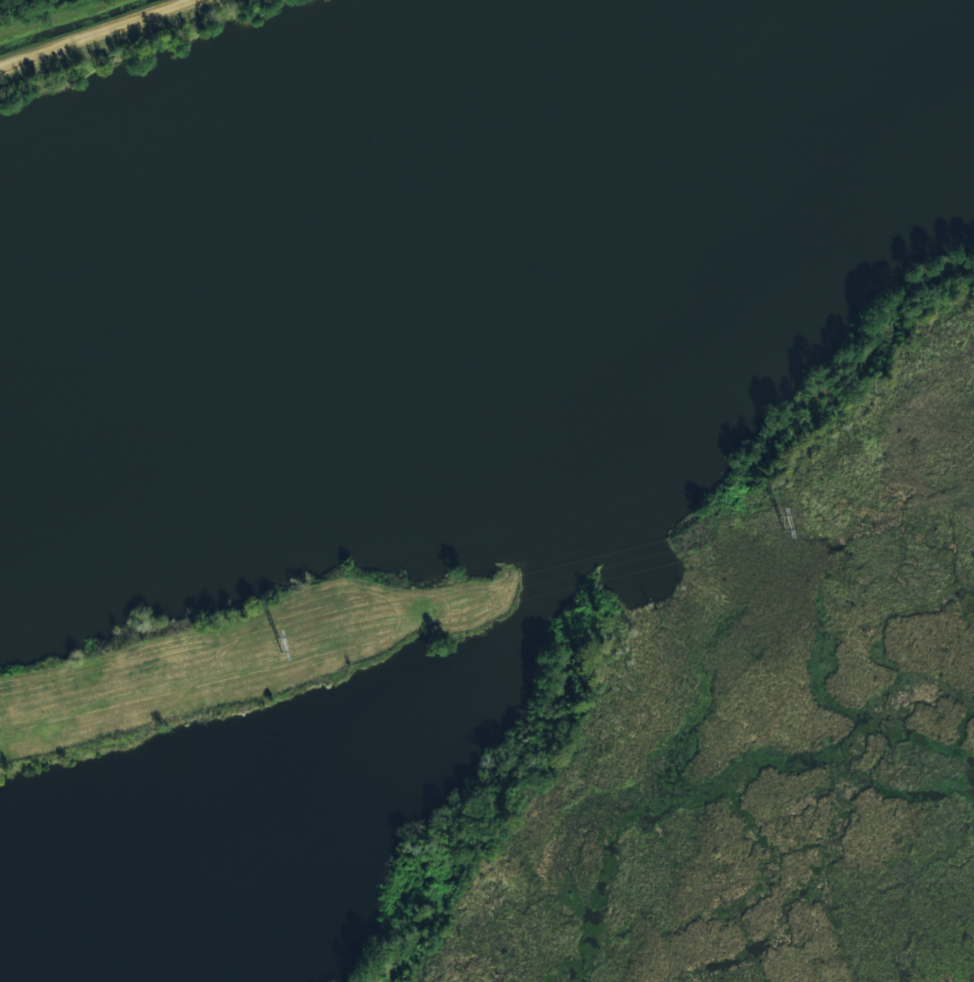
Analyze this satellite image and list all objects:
road: (36, 56)
road: (199, 676)

